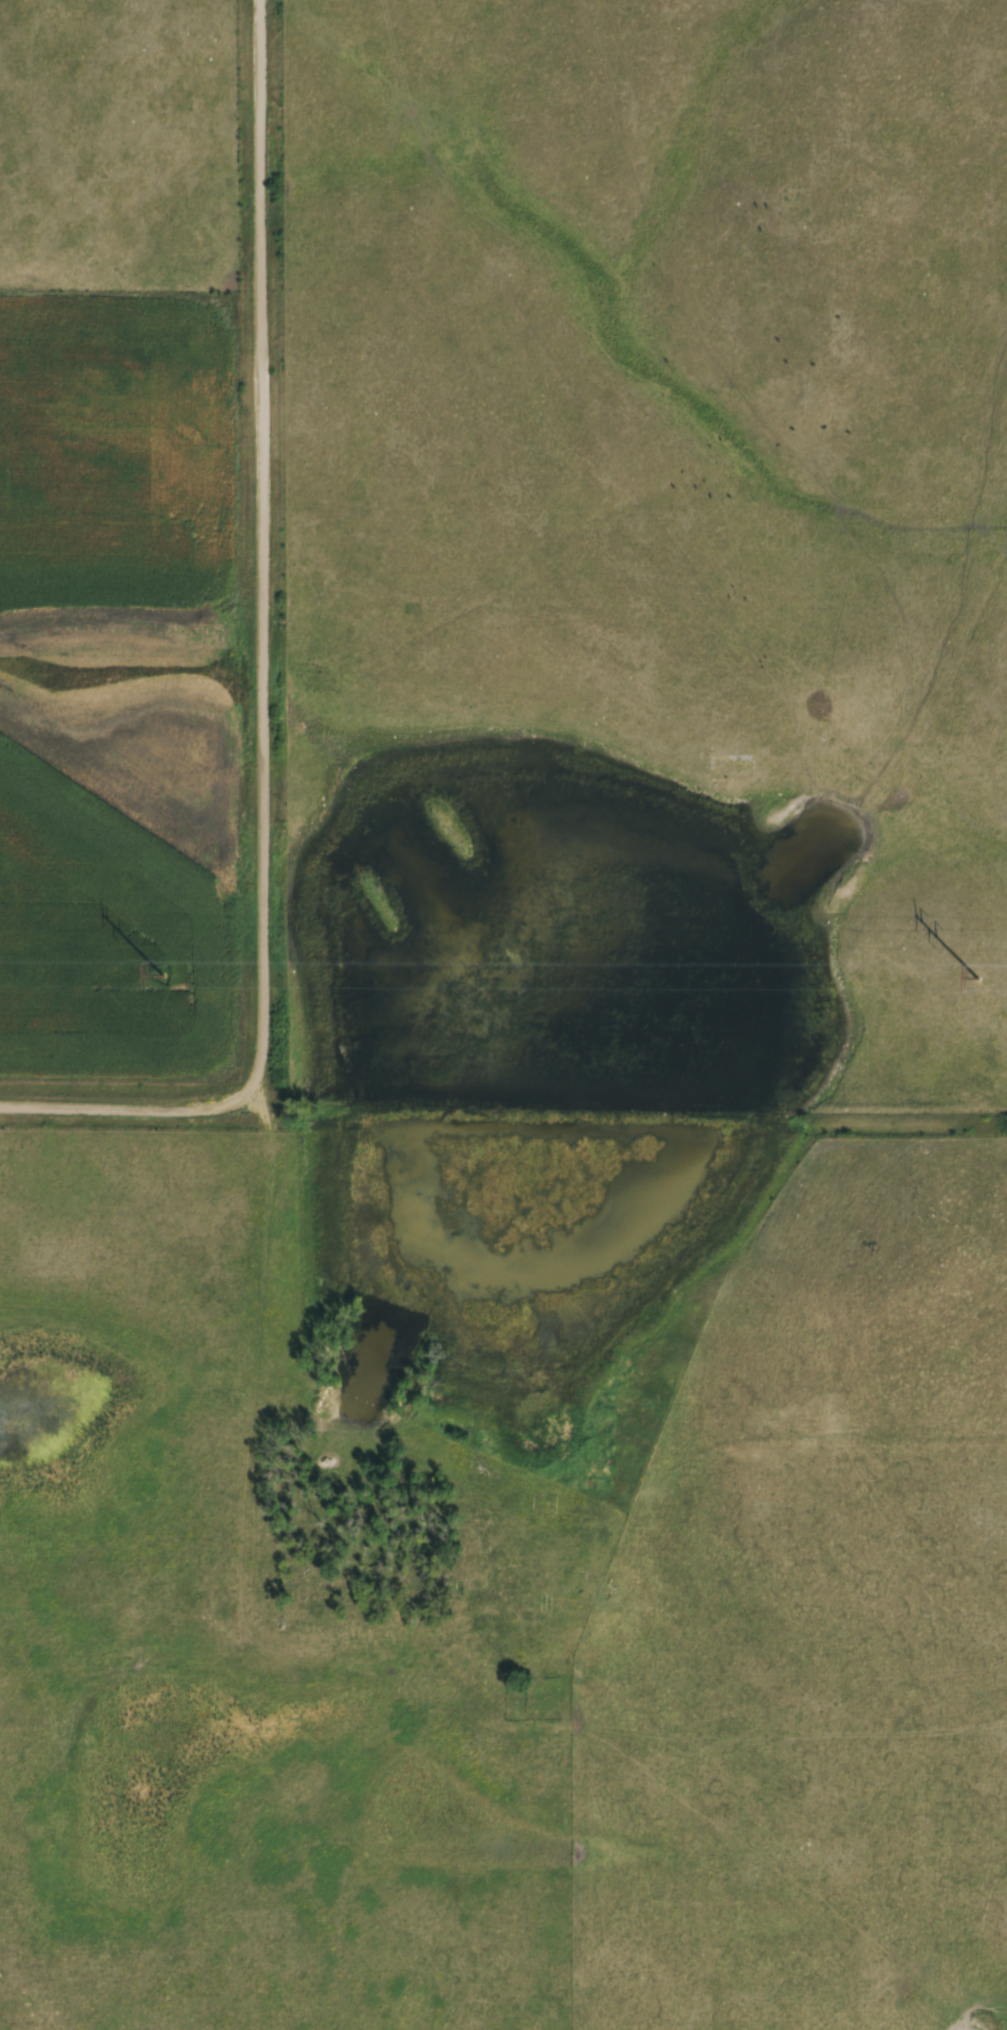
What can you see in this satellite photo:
road: (263, 673)
power tower: (976, 971)
power tower: (168, 973)
road: (916, 1131)

